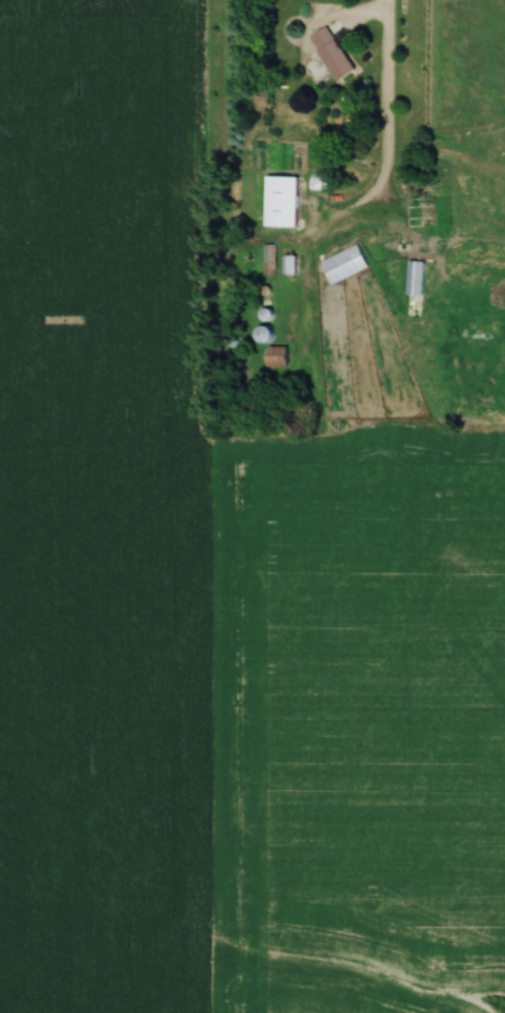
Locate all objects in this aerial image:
road: (360, 19)
building: (333, 55)
building: (282, 202)
building: (345, 265)
building: (416, 280)
building: (278, 358)

